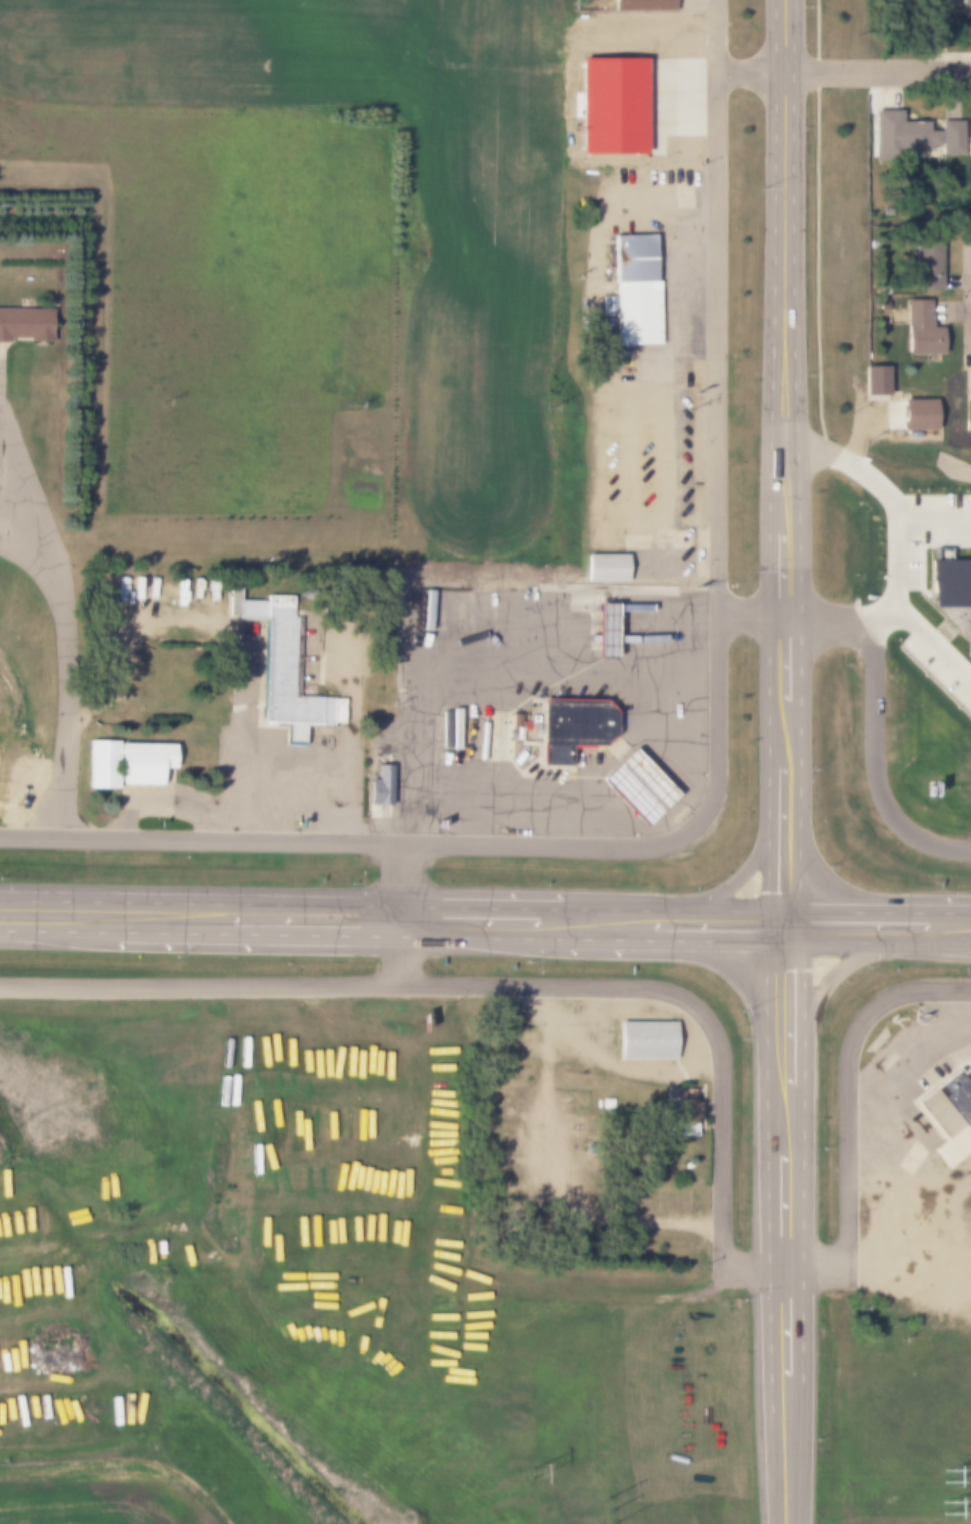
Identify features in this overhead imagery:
building: (963, 2)
building: (641, 5)
road: (842, 72)
building: (609, 105)
building: (900, 133)
building: (950, 136)
building: (969, 148)
building: (923, 265)
road: (782, 267)
road: (970, 268)
building: (633, 289)
building: (26, 323)
building: (919, 329)
building: (967, 384)
building: (917, 413)
building: (606, 561)
road: (787, 574)
building: (950, 582)
building: (132, 591)
building: (232, 598)
building: (612, 629)
gas station: (612, 629)
road: (72, 630)
building: (970, 633)
road: (778, 663)
road: (887, 664)
road: (519, 666)
building: (285, 673)
building: (967, 684)
building: (582, 726)
road: (783, 740)
building: (133, 762)
road: (715, 764)
building: (929, 781)
building: (646, 785)
gas station: (646, 785)
road: (788, 793)
road: (789, 866)
road: (742, 872)
road: (396, 887)
road: (342, 908)
road: (737, 913)
road: (880, 913)
road: (784, 927)
road: (389, 933)
road: (828, 942)
road: (924, 942)
road: (395, 957)
road: (824, 987)
road: (779, 991)
road: (710, 1024)
building: (644, 1039)
road: (779, 1064)
building: (961, 1091)
building: (606, 1102)
building: (947, 1111)
building: (681, 1117)
road: (784, 1122)
road: (788, 1211)
road: (777, 1319)
road: (779, 1400)
road: (781, 1475)

